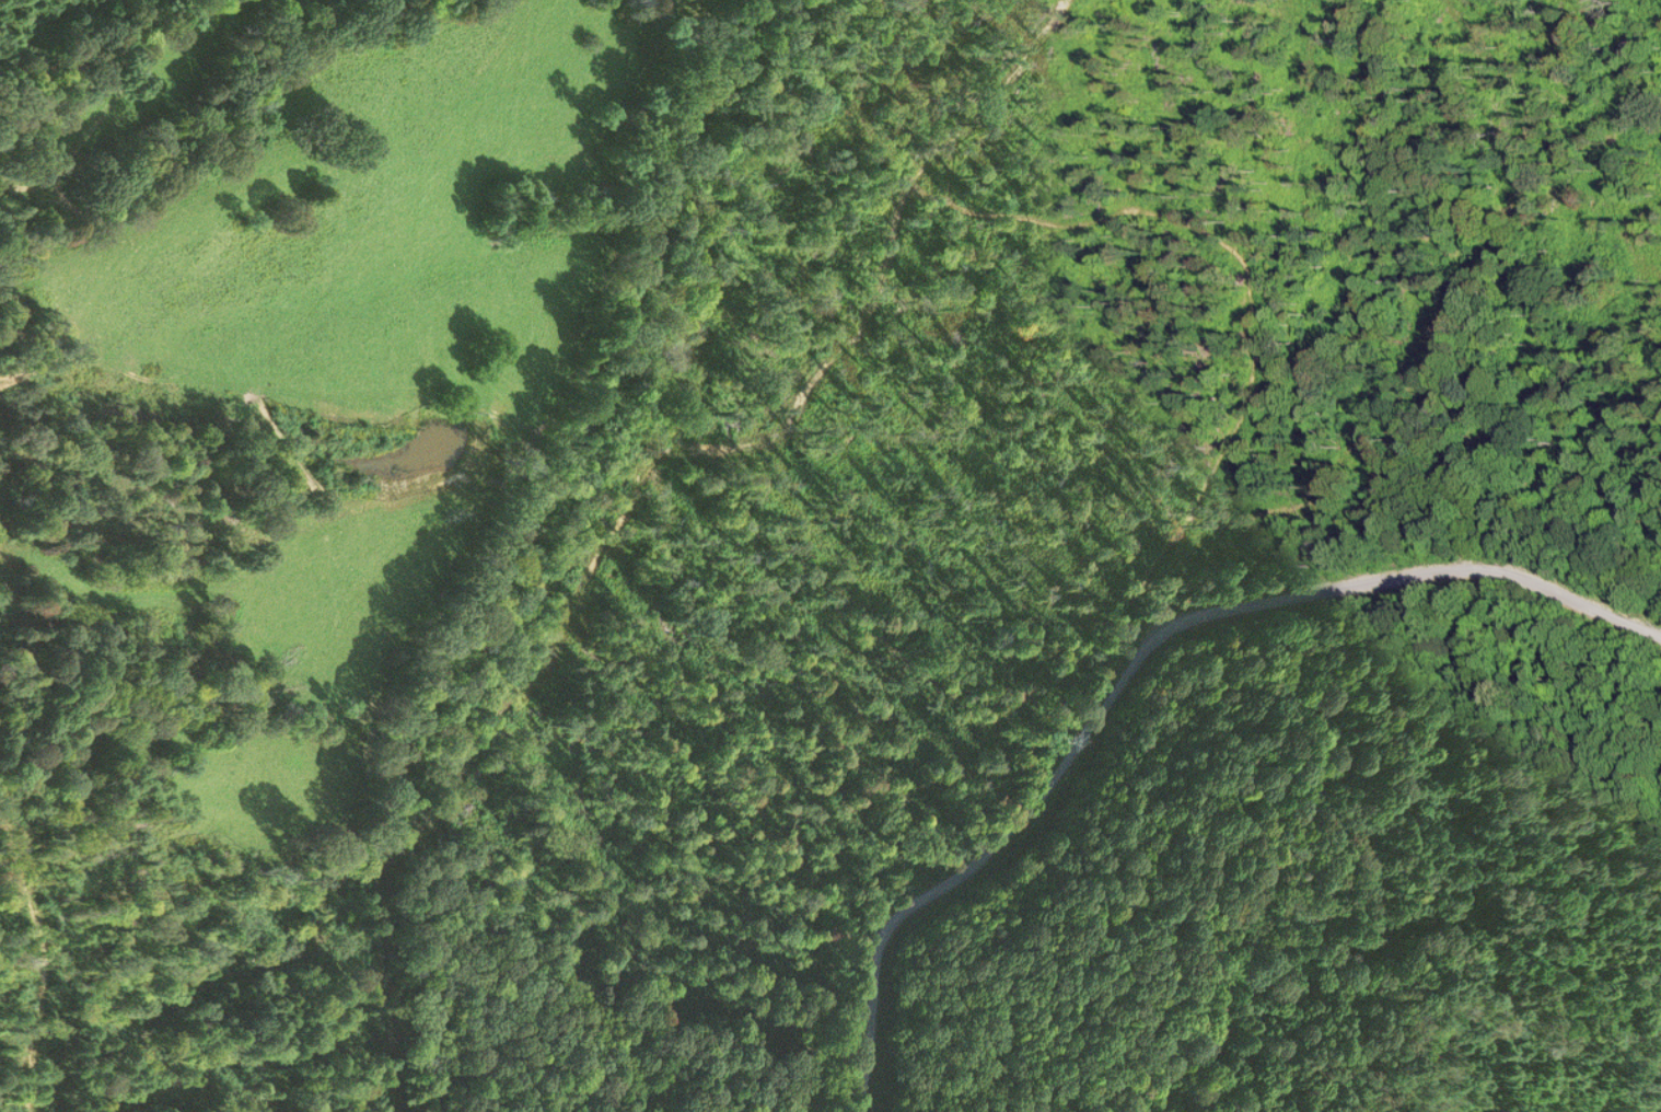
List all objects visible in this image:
road: (1130, 665)

